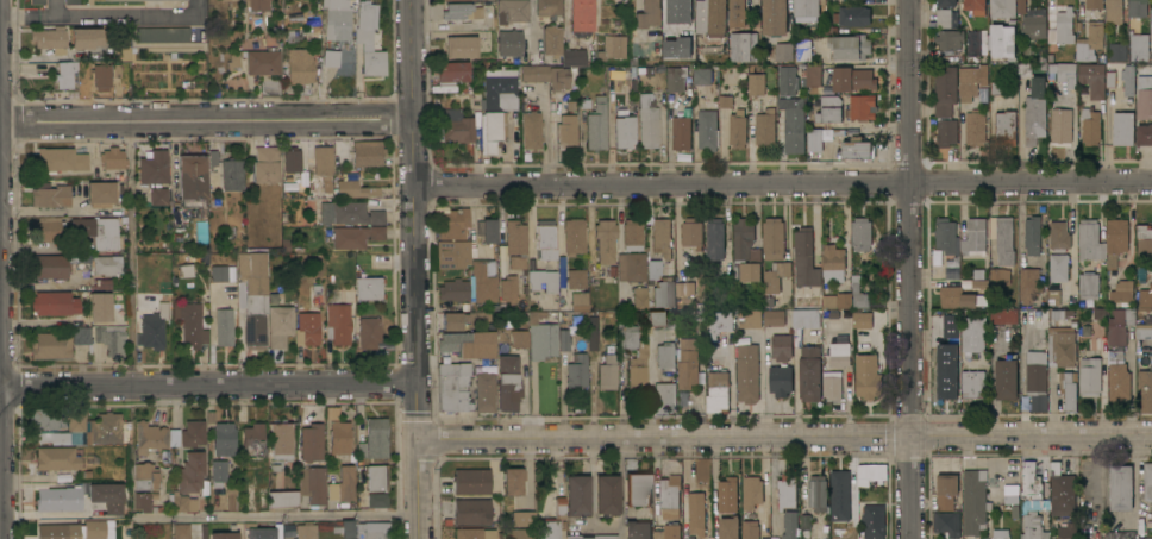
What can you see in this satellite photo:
building: (121, 0)
building: (443, 0)
building: (35, 1)
building: (69, 1)
building: (947, 2)
building: (1094, 4)
building: (257, 5)
building: (975, 6)
building: (547, 7)
building: (1021, 7)
building: (1138, 7)
road: (54, 8)
building: (1002, 8)
building: (513, 10)
building: (807, 10)
building: (461, 12)
building: (1114, 12)
building: (737, 13)
building: (649, 14)
building: (582, 15)
building: (853, 15)
road: (99, 17)
building: (710, 17)
building: (775, 17)
building: (684, 18)
building: (945, 18)
building: (334, 19)
building: (363, 21)
building: (290, 26)
building: (1034, 26)
building: (1065, 26)
building: (162, 33)
building: (88, 37)
building: (50, 38)
building: (551, 39)
building: (951, 39)
building: (1003, 39)
building: (1089, 42)
building: (511, 43)
building: (1140, 44)
building: (462, 46)
building: (743, 46)
building: (850, 46)
building: (613, 48)
building: (781, 48)
building: (803, 48)
building: (121, 49)
building: (1117, 51)
building: (574, 57)
building: (262, 62)
building: (371, 63)
building: (296, 65)
building: (536, 68)
building: (1025, 69)
building: (452, 71)
building: (1066, 71)
building: (64, 74)
building: (101, 76)
building: (705, 77)
building: (559, 79)
building: (677, 79)
building: (797, 79)
building: (852, 79)
building: (1092, 79)
building: (1128, 80)
building: (971, 81)
building: (757, 84)
building: (501, 89)
building: (726, 96)
building: (1144, 96)
building: (945, 105)
building: (863, 106)
building: (829, 109)
building: (1037, 112)
building: (650, 118)
road: (206, 120)
building: (563, 124)
building: (596, 124)
building: (707, 124)
building: (451, 125)
building: (1062, 125)
building: (1090, 126)
building: (738, 127)
building: (765, 127)
building: (1006, 127)
building: (976, 129)
building: (1123, 129)
building: (794, 130)
building: (492, 131)
building: (531, 131)
building: (682, 131)
building: (625, 132)
building: (1144, 134)
building: (856, 148)
building: (358, 151)
building: (113, 158)
building: (60, 159)
building: (292, 159)
building: (321, 161)
building: (265, 164)
building: (154, 167)
building: (232, 174)
building: (190, 180)
road: (782, 183)
building: (355, 189)
road: (414, 192)
building: (101, 193)
building: (51, 196)
building: (158, 196)
building: (343, 212)
building: (376, 217)
building: (453, 224)
building: (49, 228)
building: (486, 230)
building: (98, 231)
building: (376, 233)
building: (691, 233)
building: (860, 234)
building: (946, 234)
building: (1033, 234)
building: (574, 236)
building: (1059, 236)
building: (349, 237)
building: (975, 237)
building: (662, 238)
building: (774, 238)
building: (1003, 238)
building: (545, 239)
building: (715, 239)
building: (605, 240)
building: (1090, 240)
building: (1144, 240)
building: (1116, 242)
building: (515, 243)
building: (632, 252)
building: (746, 252)
building: (452, 253)
road: (131, 255)
building: (806, 258)
building: (81, 261)
building: (107, 263)
building: (833, 263)
building: (315, 264)
building: (49, 265)
building: (1059, 267)
building: (952, 268)
building: (186, 269)
road: (907, 269)
building: (652, 270)
building: (223, 272)
building: (776, 276)
building: (1000, 276)
building: (576, 278)
building: (484, 280)
building: (544, 280)
building: (976, 280)
building: (1031, 286)
building: (1089, 286)
building: (368, 288)
building: (508, 288)
building: (684, 288)
building: (453, 289)
building: (664, 292)
building: (1122, 292)
building: (858, 294)
building: (318, 295)
building: (255, 296)
building: (1054, 296)
building: (639, 297)
building: (956, 297)
building: (808, 299)
building: (1145, 299)
building: (578, 301)
building: (838, 301)
building: (54, 303)
building: (100, 306)
building: (1003, 315)
building: (655, 318)
building: (775, 318)
building: (806, 318)
building: (750, 319)
building: (453, 320)
building: (860, 320)
building: (190, 322)
building: (338, 322)
building: (718, 324)
building: (225, 325)
building: (280, 325)
building: (1120, 325)
building: (152, 326)
building: (308, 328)
building: (1144, 331)
building: (369, 332)
building: (593, 332)
building: (82, 333)
building: (972, 334)
building: (519, 338)
building: (541, 338)
building: (563, 340)
building: (111, 341)
building: (50, 345)
building: (782, 346)
building: (1063, 346)
building: (839, 350)
building: (641, 352)
building: (946, 356)
building: (665, 357)
building: (475, 361)
building: (688, 363)
building: (576, 371)
building: (608, 372)
building: (747, 372)
building: (810, 374)
building: (866, 376)
building: (1089, 376)
building: (1007, 380)
building: (781, 381)
building: (1038, 381)
building: (1119, 382)
building: (507, 383)
building: (832, 384)
road: (208, 386)
building: (453, 386)
road: (650, 387)
building: (1069, 389)
building: (1145, 390)
building: (718, 391)
building: (972, 391)
building: (665, 397)
building: (332, 413)
building: (44, 421)
building: (75, 422)
building: (106, 428)
building: (193, 433)
building: (149, 437)
building: (174, 437)
building: (340, 437)
building: (224, 438)
building: (375, 438)
road: (784, 438)
building: (280, 440)
building: (253, 441)
building: (312, 443)
building: (56, 458)
road: (418, 460)
building: (219, 472)
building: (871, 472)
building: (145, 476)
building: (377, 477)
building: (1147, 480)
building: (471, 481)
building: (513, 481)
building: (188, 482)
building: (312, 483)
building: (1031, 484)
building: (343, 485)
building: (638, 488)
building: (1121, 488)
building: (787, 490)
building: (818, 490)
building: (751, 491)
building: (839, 491)
building: (607, 493)
building: (1063, 493)
building: (577, 494)
building: (669, 494)
building: (727, 494)
building: (107, 495)
building: (231, 497)
building: (58, 499)
building: (276, 499)
building: (377, 500)
building: (975, 501)
building: (145, 503)
building: (947, 506)
building: (471, 510)
building: (696, 513)
building: (524, 518)
road: (276, 519)
building: (874, 521)
building: (790, 526)
building: (1033, 526)
building: (337, 527)
building: (728, 527)
building: (806, 527)
building: (371, 529)
building: (547, 529)
building: (637, 529)
building: (750, 529)
building: (73, 531)
building: (181, 531)
building: (305, 531)
building: (672, 531)
building: (841, 531)
building: (1068, 531)
building: (261, 533)
building: (474, 533)
building: (520, 533)
building: (224, 534)
building: (1001, 534)
building: (1122, 534)
building: (581, 537)
building: (606, 537)
building: (765, 538)
building: (1145, 538)

